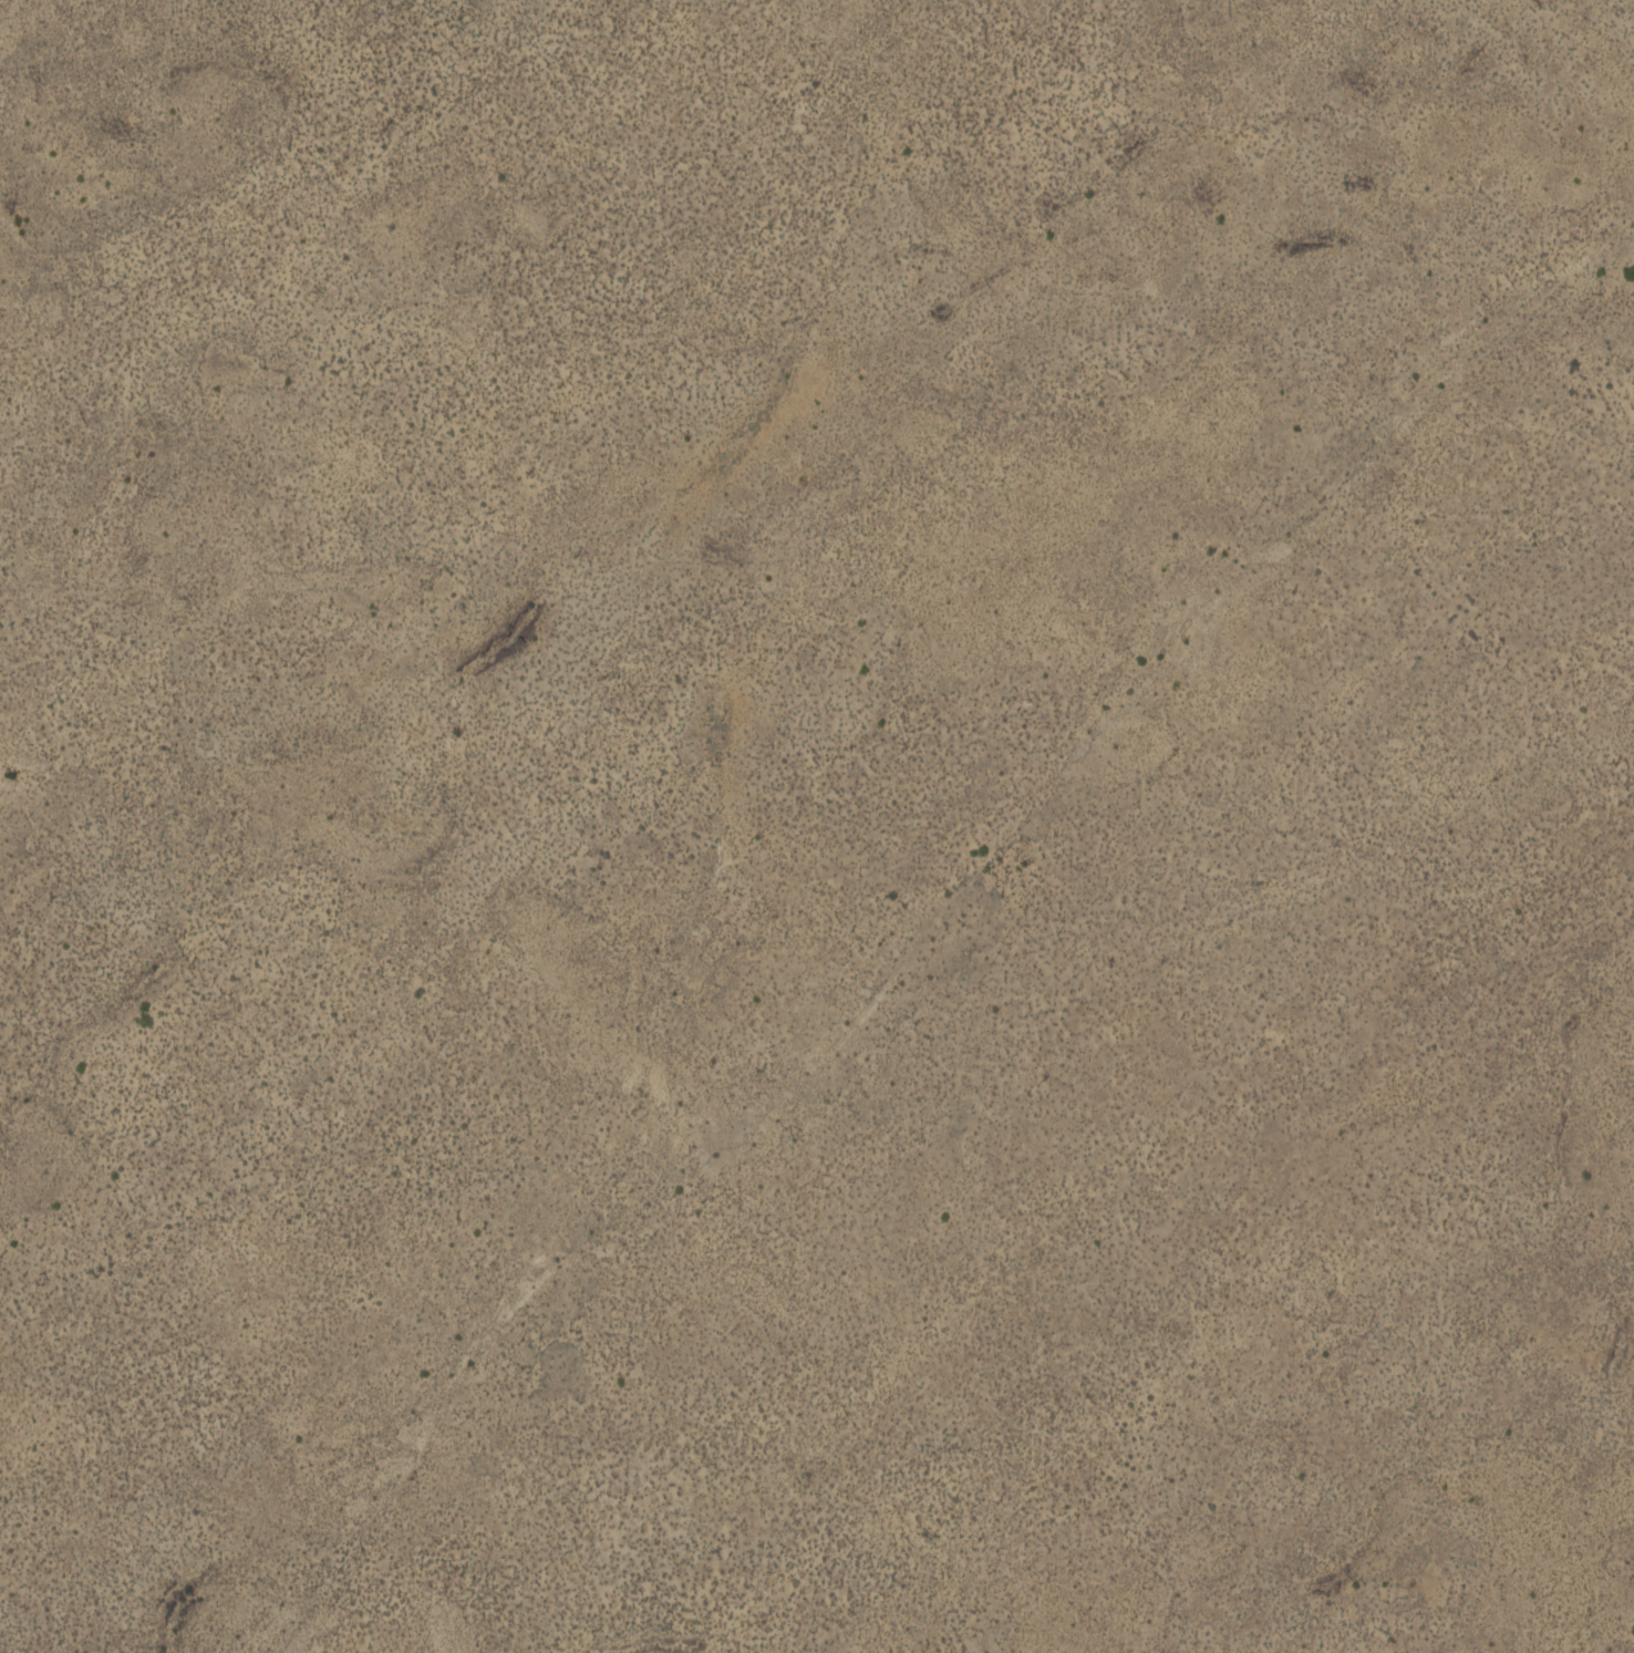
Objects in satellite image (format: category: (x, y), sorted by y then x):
road: (934, 931)

